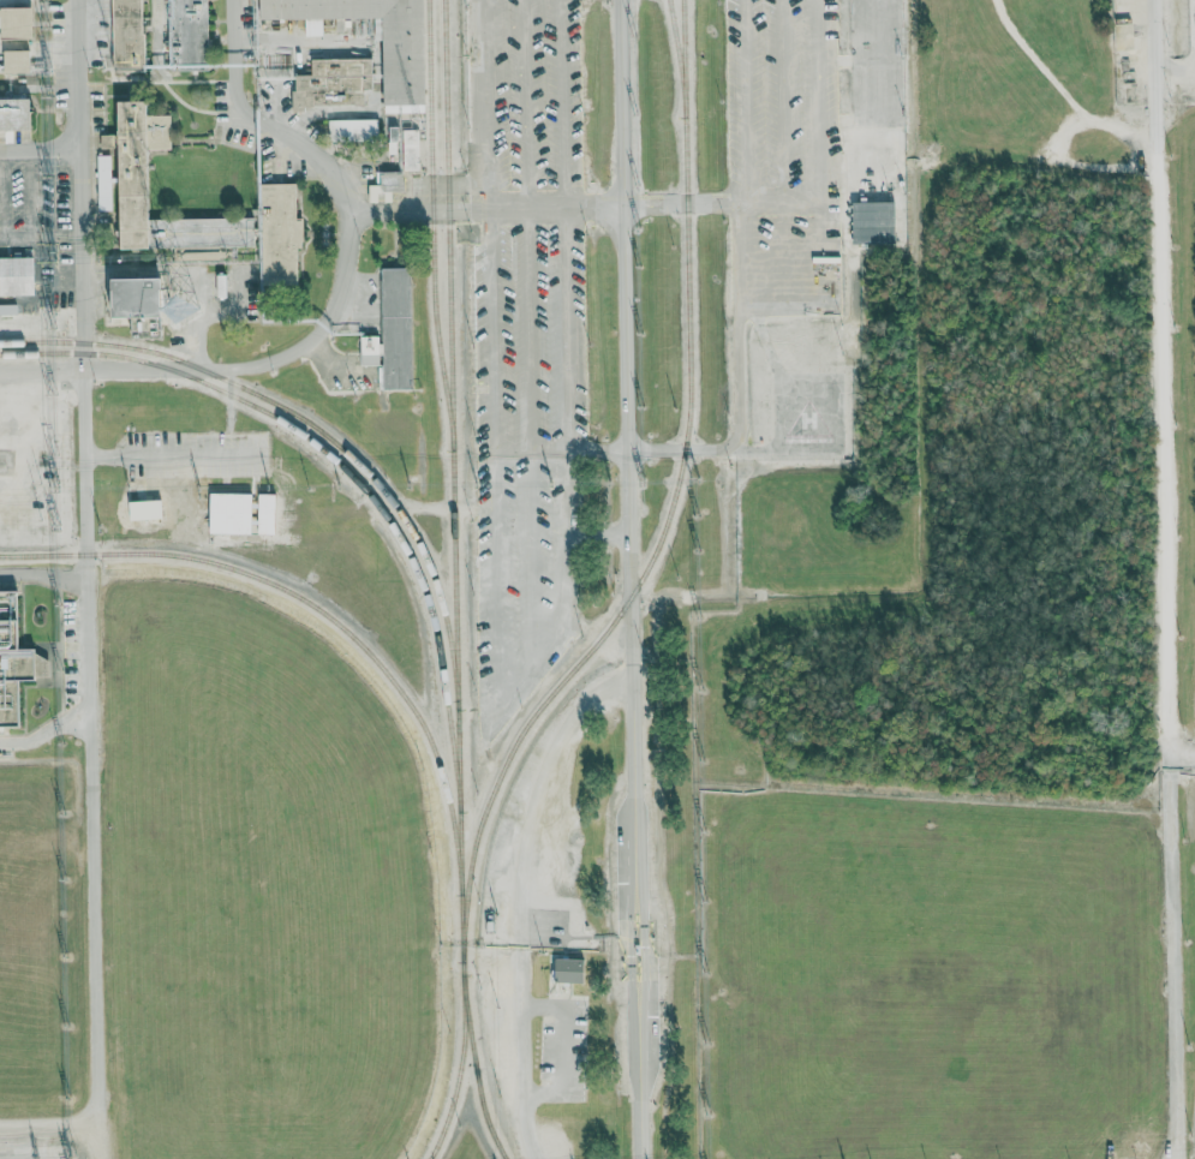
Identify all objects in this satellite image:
building: (16, 23)
building: (380, 30)
building: (190, 32)
building: (129, 35)
railway: (679, 58)
building: (17, 61)
building: (404, 65)
building: (328, 82)
parking lot: (528, 96)
building: (16, 114)
road: (262, 120)
building: (353, 130)
road: (42, 145)
building: (406, 147)
road: (1, 148)
parking lot: (789, 157)
building: (870, 172)
building: (104, 183)
building: (387, 184)
road: (31, 191)
building: (279, 201)
road: (543, 208)
building: (872, 222)
railway: (432, 225)
road: (2, 233)
building: (17, 276)
building: (138, 299)
building: (396, 328)
road: (627, 339)
road: (268, 362)
road: (42, 370)
helipad: (809, 422)
railway: (312, 425)
road: (737, 429)
railway: (452, 446)
parking lot: (530, 459)
railway: (343, 466)
building: (145, 510)
road: (43, 575)
road: (1166, 579)
railway: (628, 601)
road: (86, 613)
railway: (346, 629)
building: (12, 646)
road: (44, 731)
road: (520, 897)
road: (634, 919)
building: (569, 969)
railway: (476, 1068)

